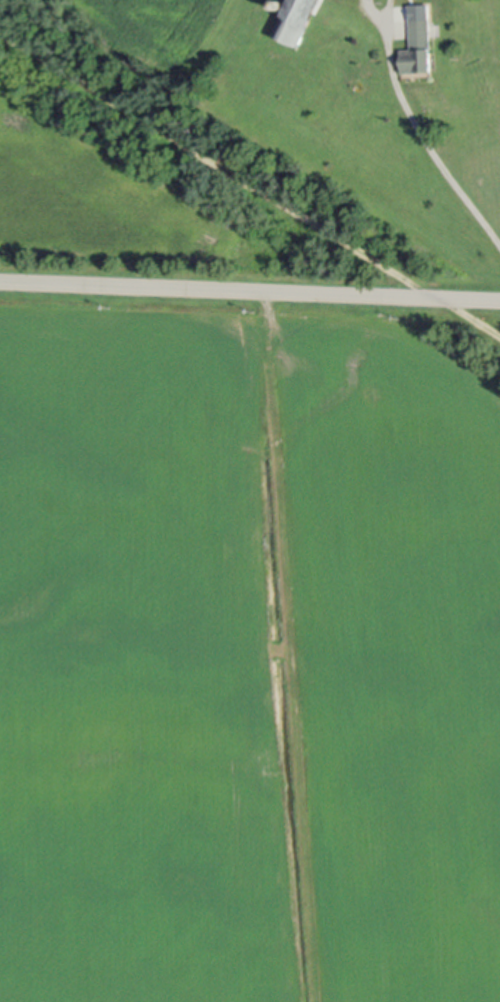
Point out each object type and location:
building: (296, 21)
building: (418, 47)
road: (429, 143)
road: (250, 182)
road: (250, 288)

